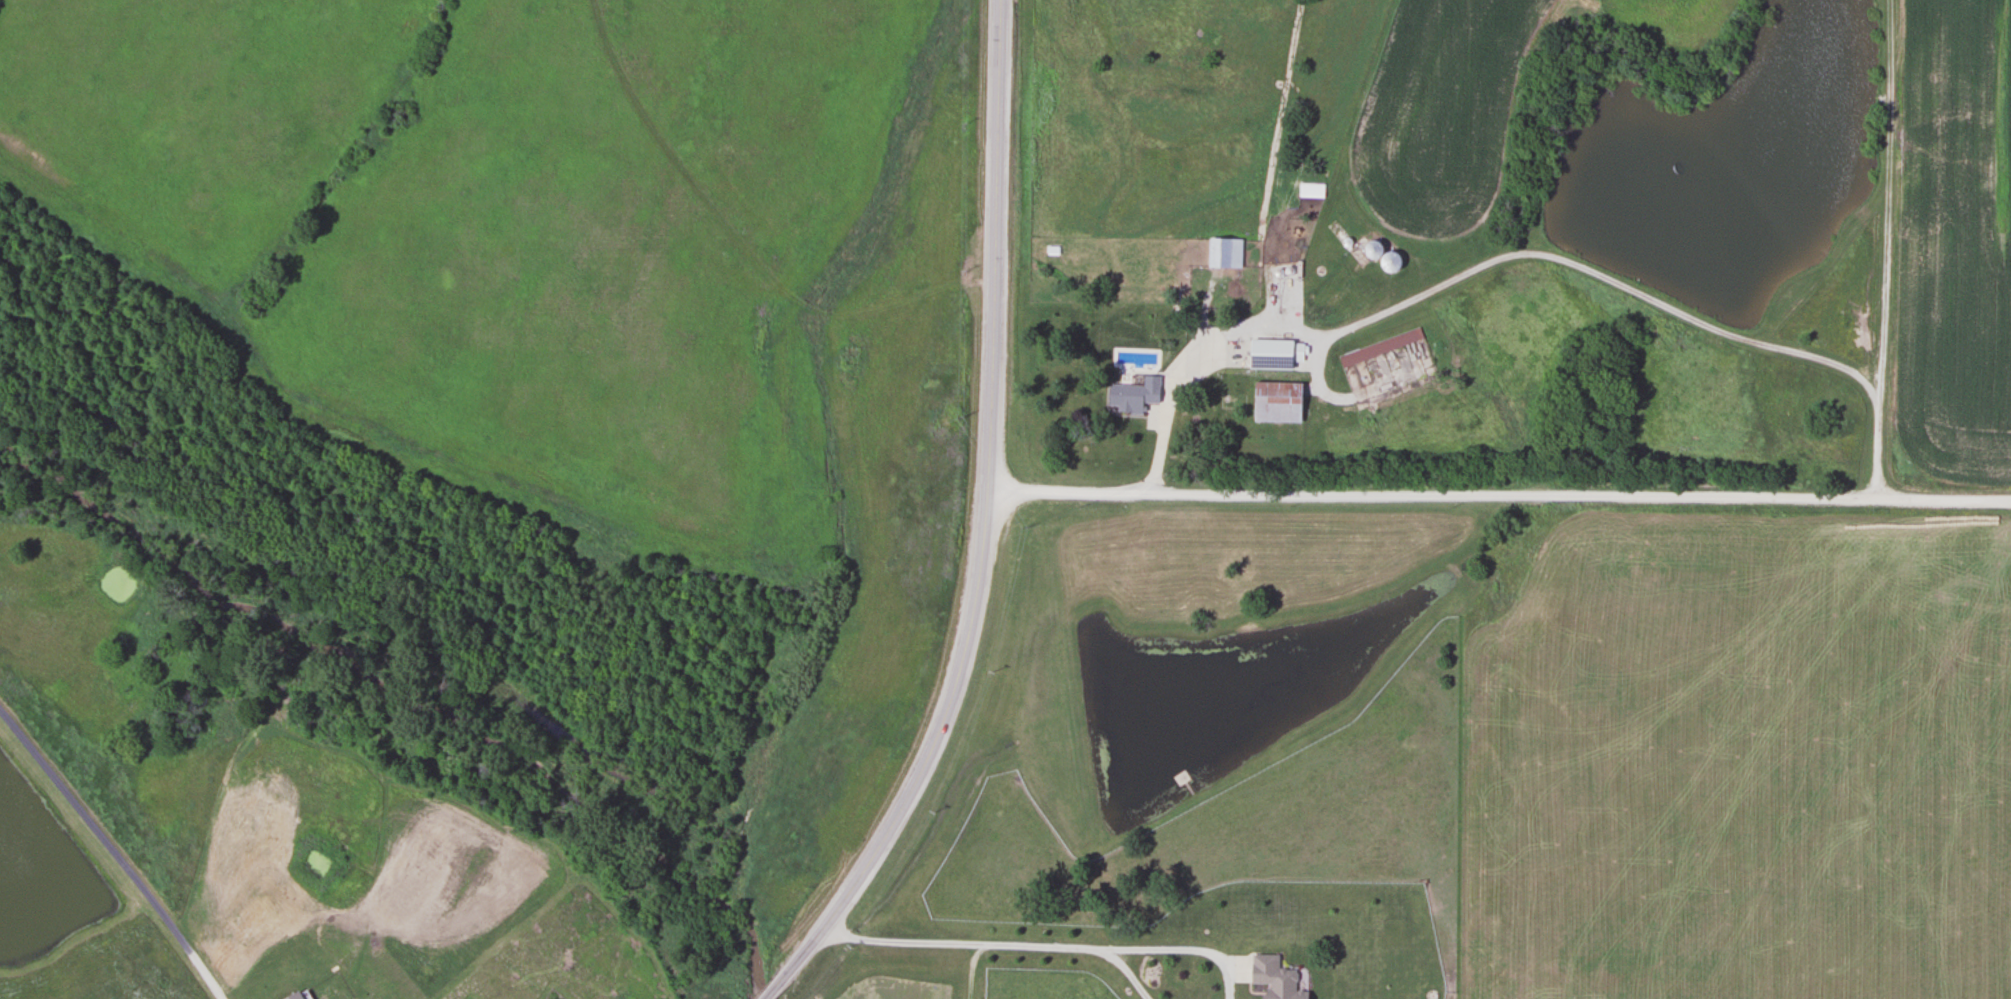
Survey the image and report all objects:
crop: (1951, 238)
building: (1223, 252)
road: (1513, 252)
building: (1387, 261)
building: (1316, 307)
building: (1379, 347)
building: (1239, 352)
building: (1130, 396)
building: (1275, 402)
road: (1498, 495)
road: (983, 529)
road: (115, 851)
road: (1005, 943)
building: (1272, 978)
building: (294, 995)

